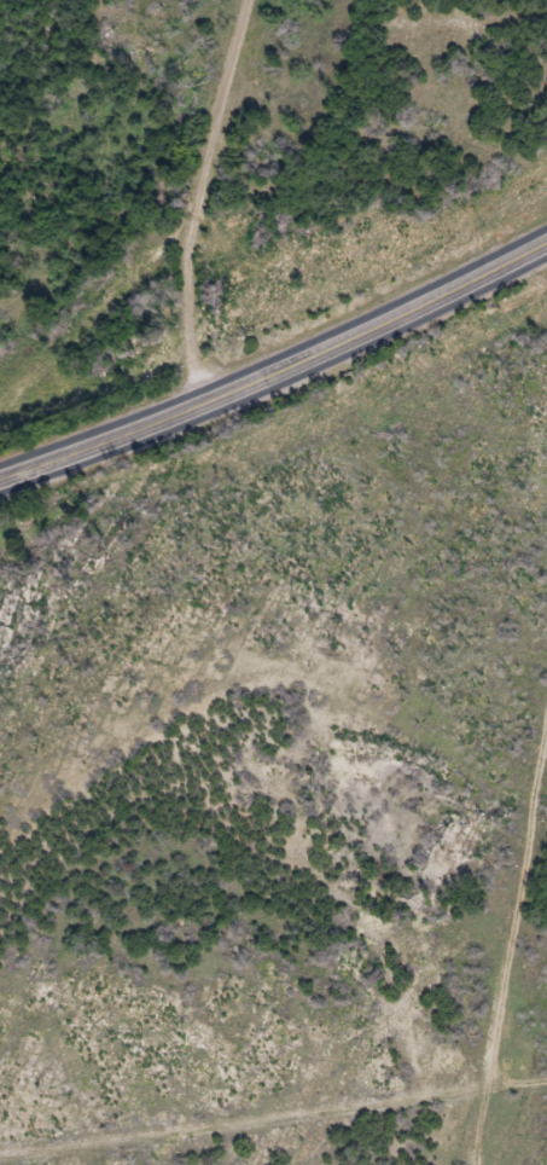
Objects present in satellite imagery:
road: (229, 74)
road: (192, 272)
road: (279, 369)
road: (506, 946)

